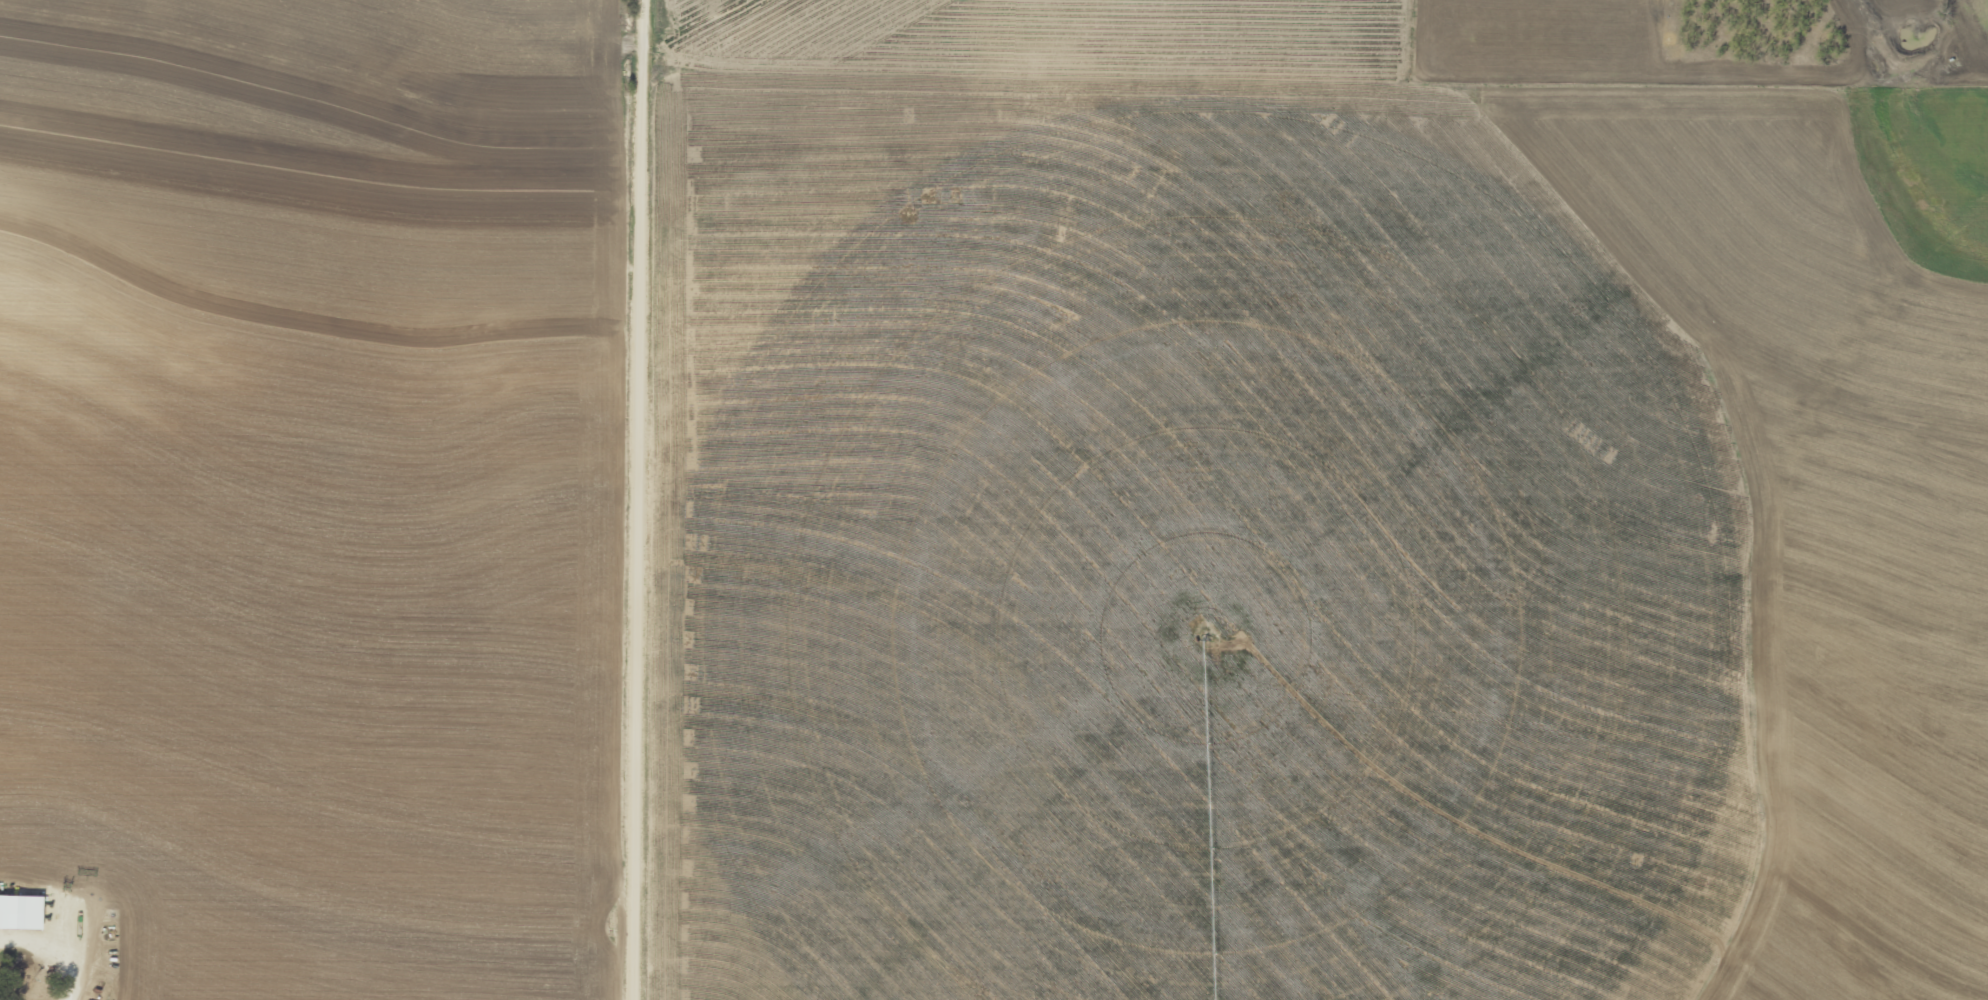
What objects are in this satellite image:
road: (654, 499)
building: (18, 912)

